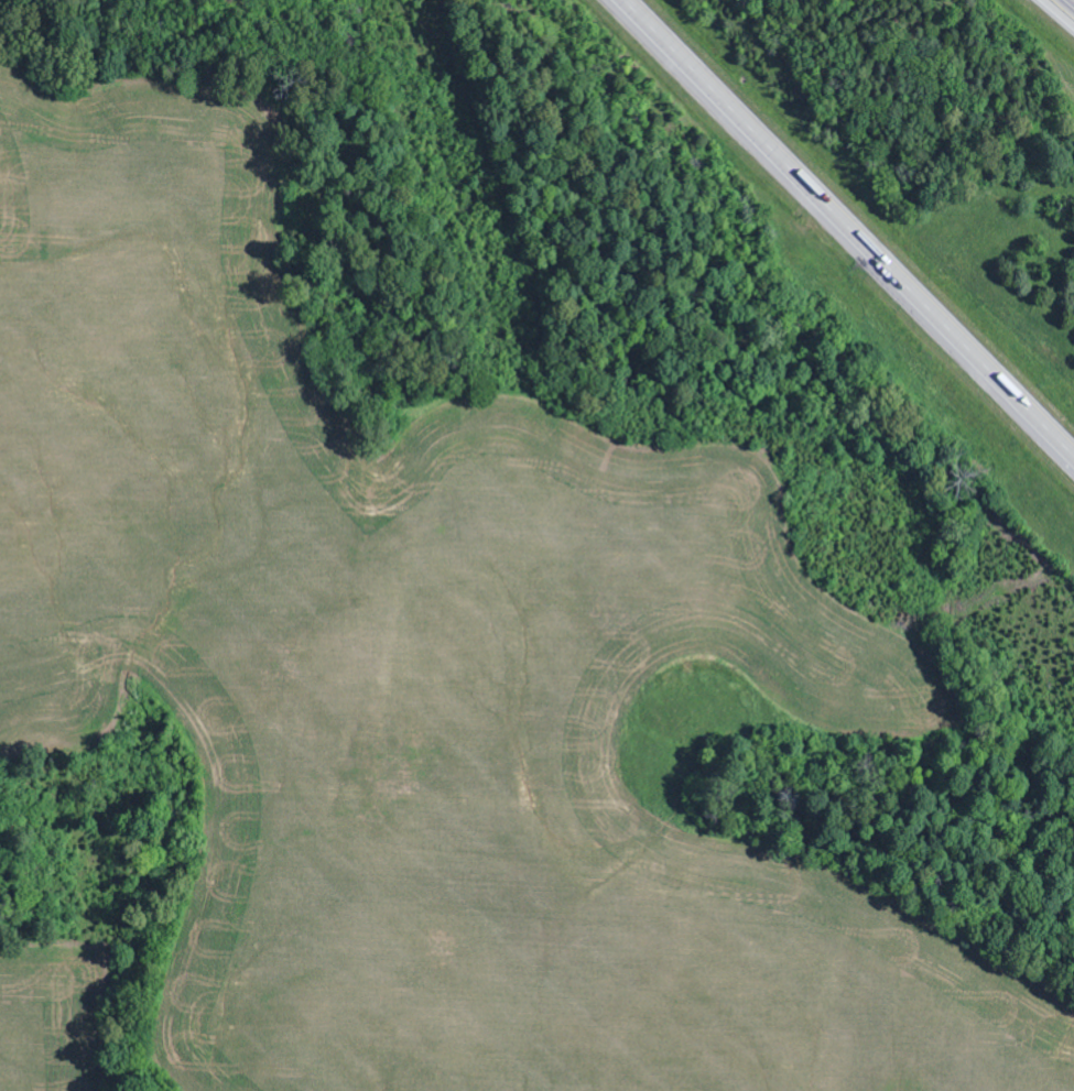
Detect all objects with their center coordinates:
road: (1062, 9)
road: (847, 229)

